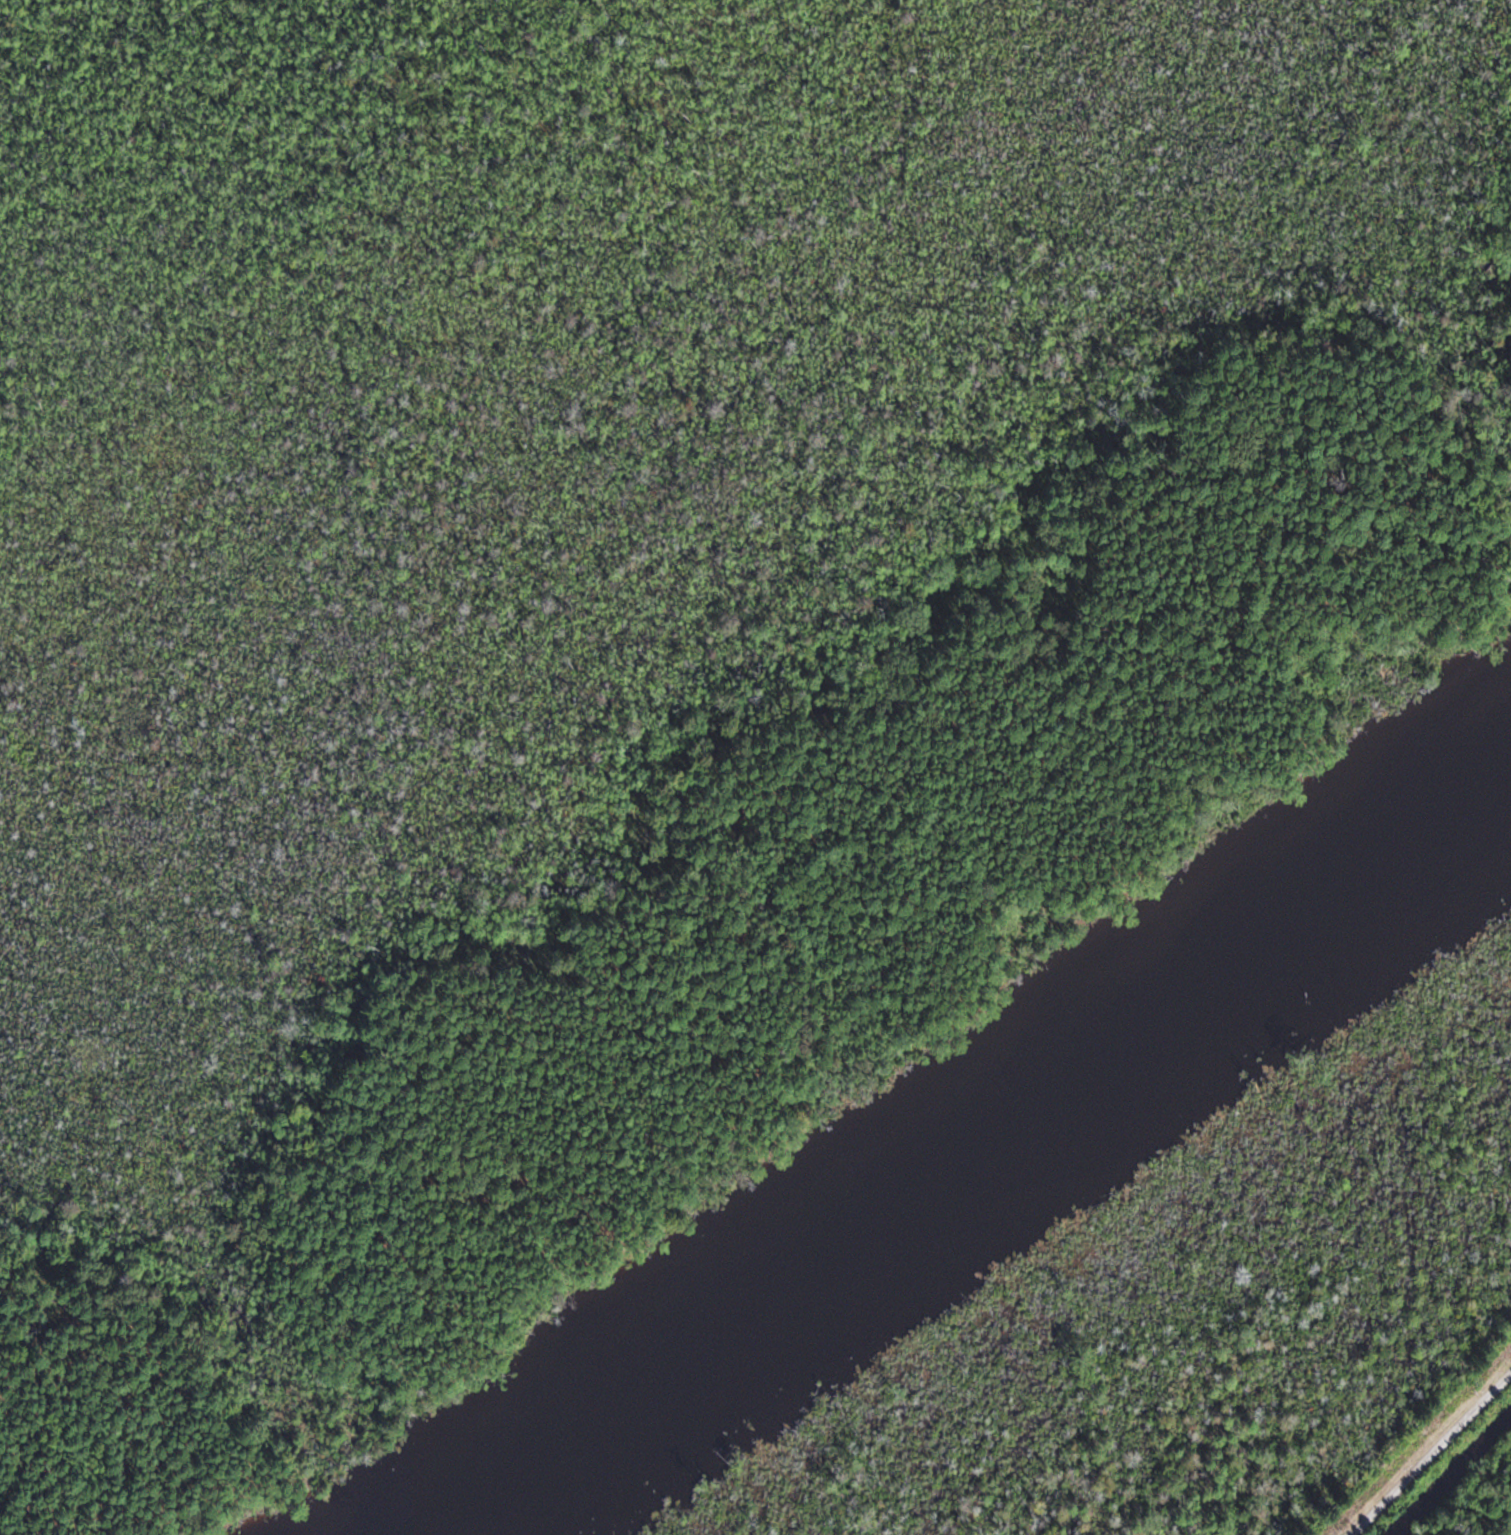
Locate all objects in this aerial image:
road: (1430, 1453)

